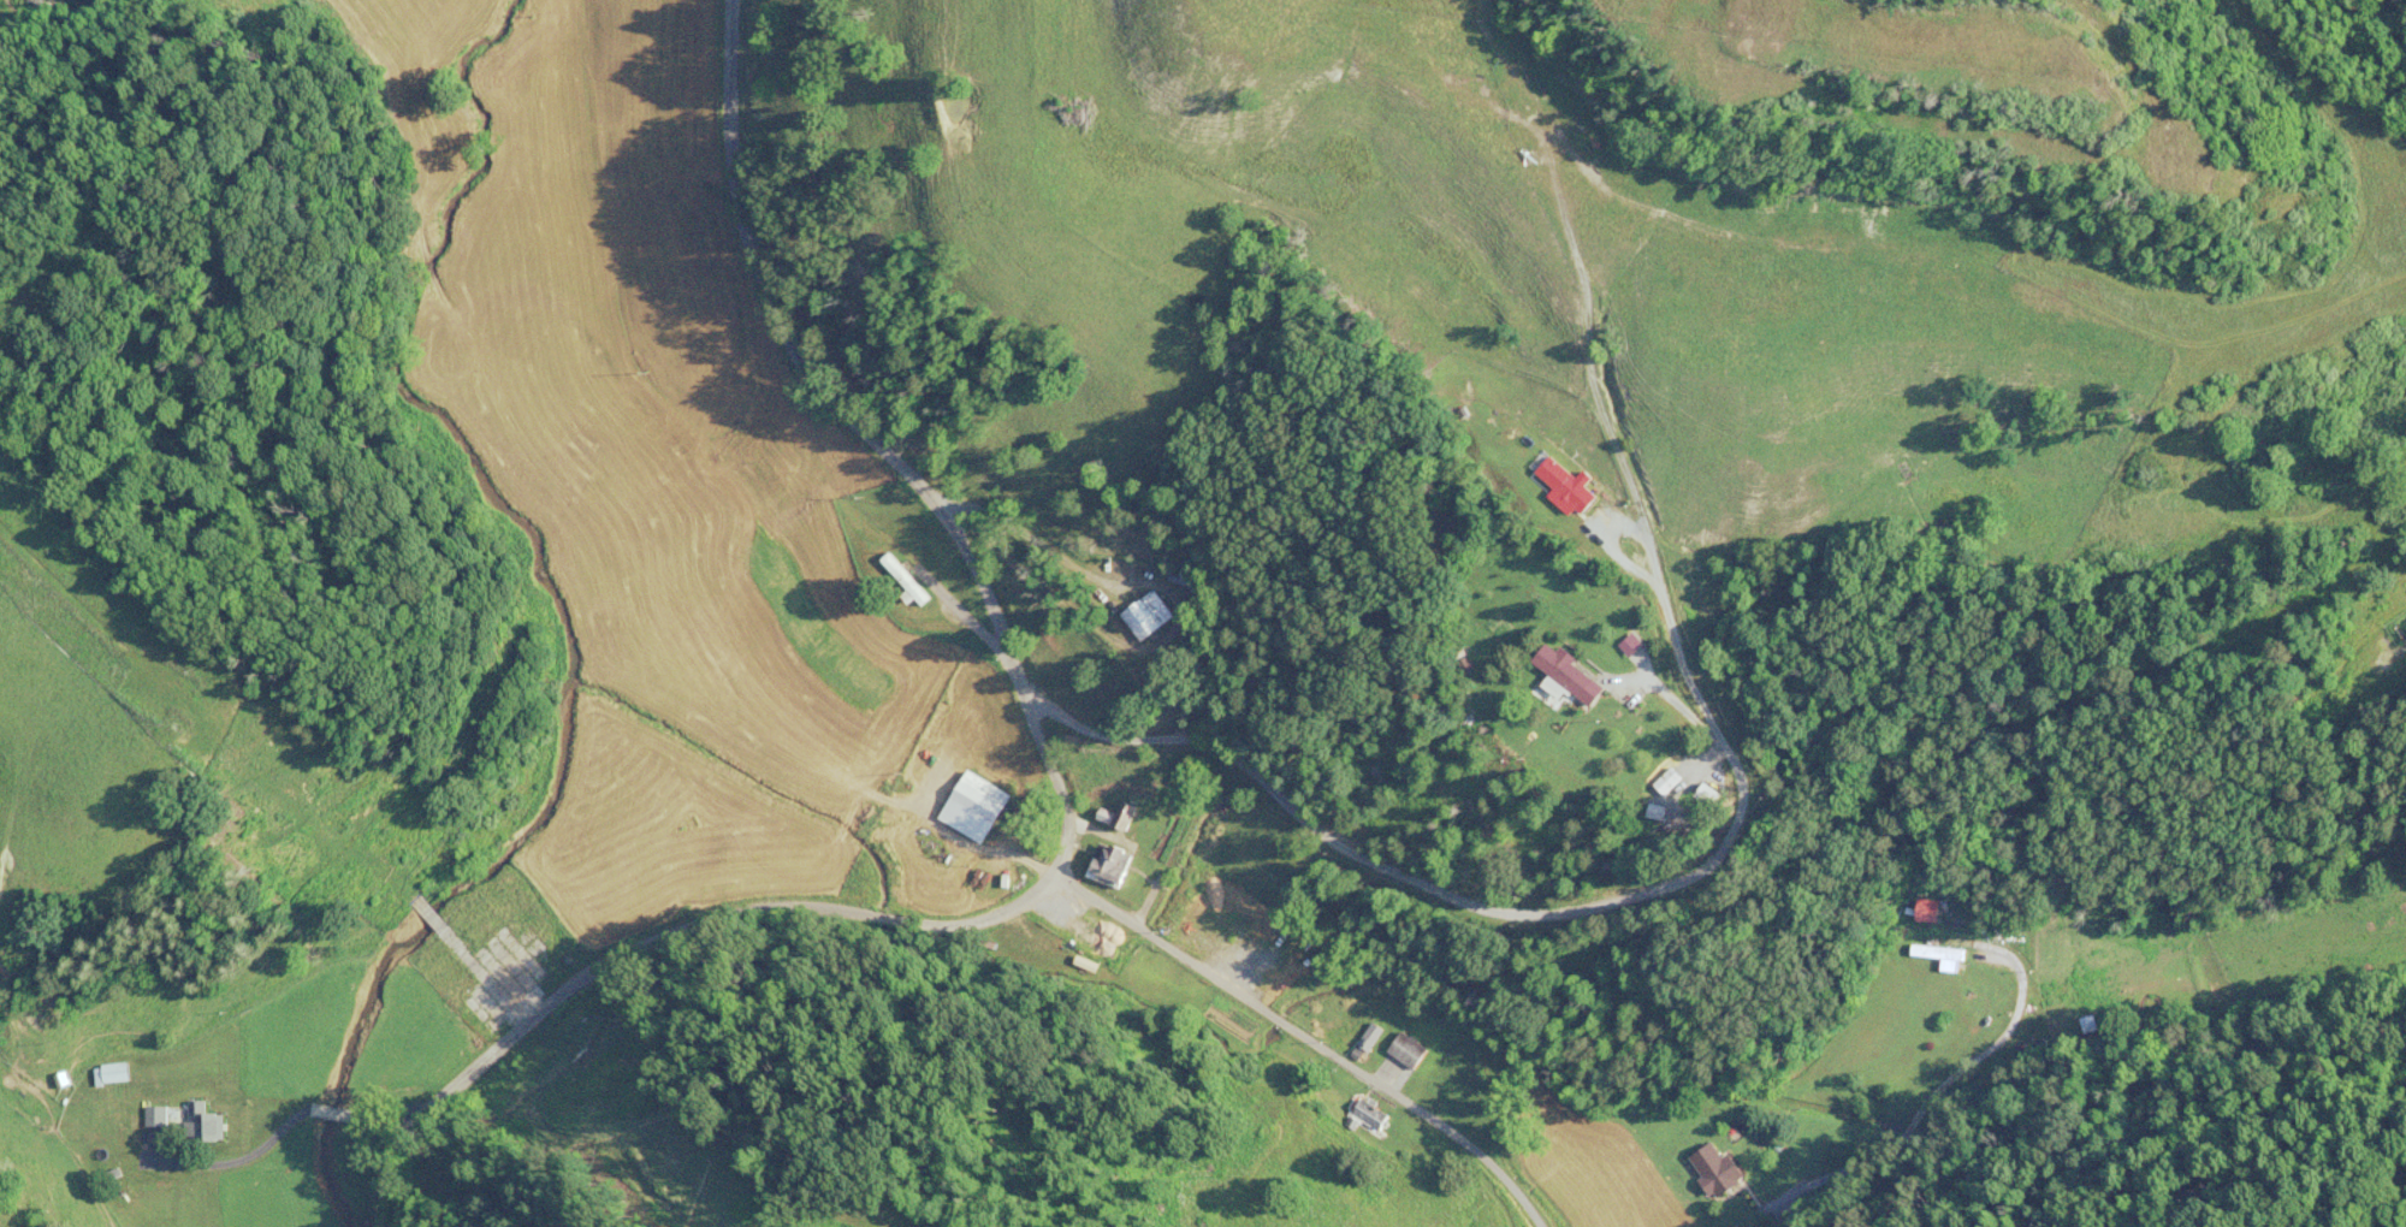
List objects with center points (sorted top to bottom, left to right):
road: (875, 445)
building: (1565, 487)
building: (908, 583)
building: (1149, 617)
building: (1566, 676)
building: (1667, 782)
building: (974, 808)
building: (1127, 816)
building: (1113, 863)
road: (742, 911)
building: (1940, 956)
road: (1303, 1038)
building: (1408, 1051)
building: (115, 1073)
road: (2120, 1086)
building: (156, 1118)
road: (399, 1119)
building: (205, 1124)
building: (1717, 1170)

